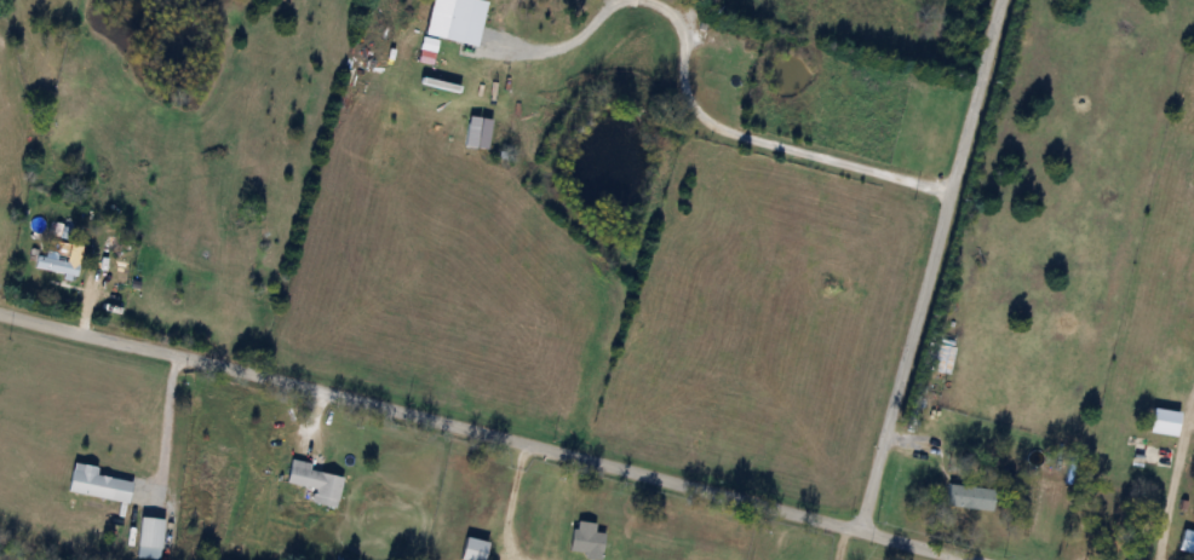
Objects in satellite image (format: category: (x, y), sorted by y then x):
road: (545, 48)
road: (754, 137)
road: (925, 264)
building: (54, 266)
road: (166, 427)
road: (483, 429)
building: (96, 483)
building: (315, 483)
building: (969, 497)
road: (501, 503)
building: (148, 537)
building: (585, 539)
building: (1186, 543)
building: (472, 549)

